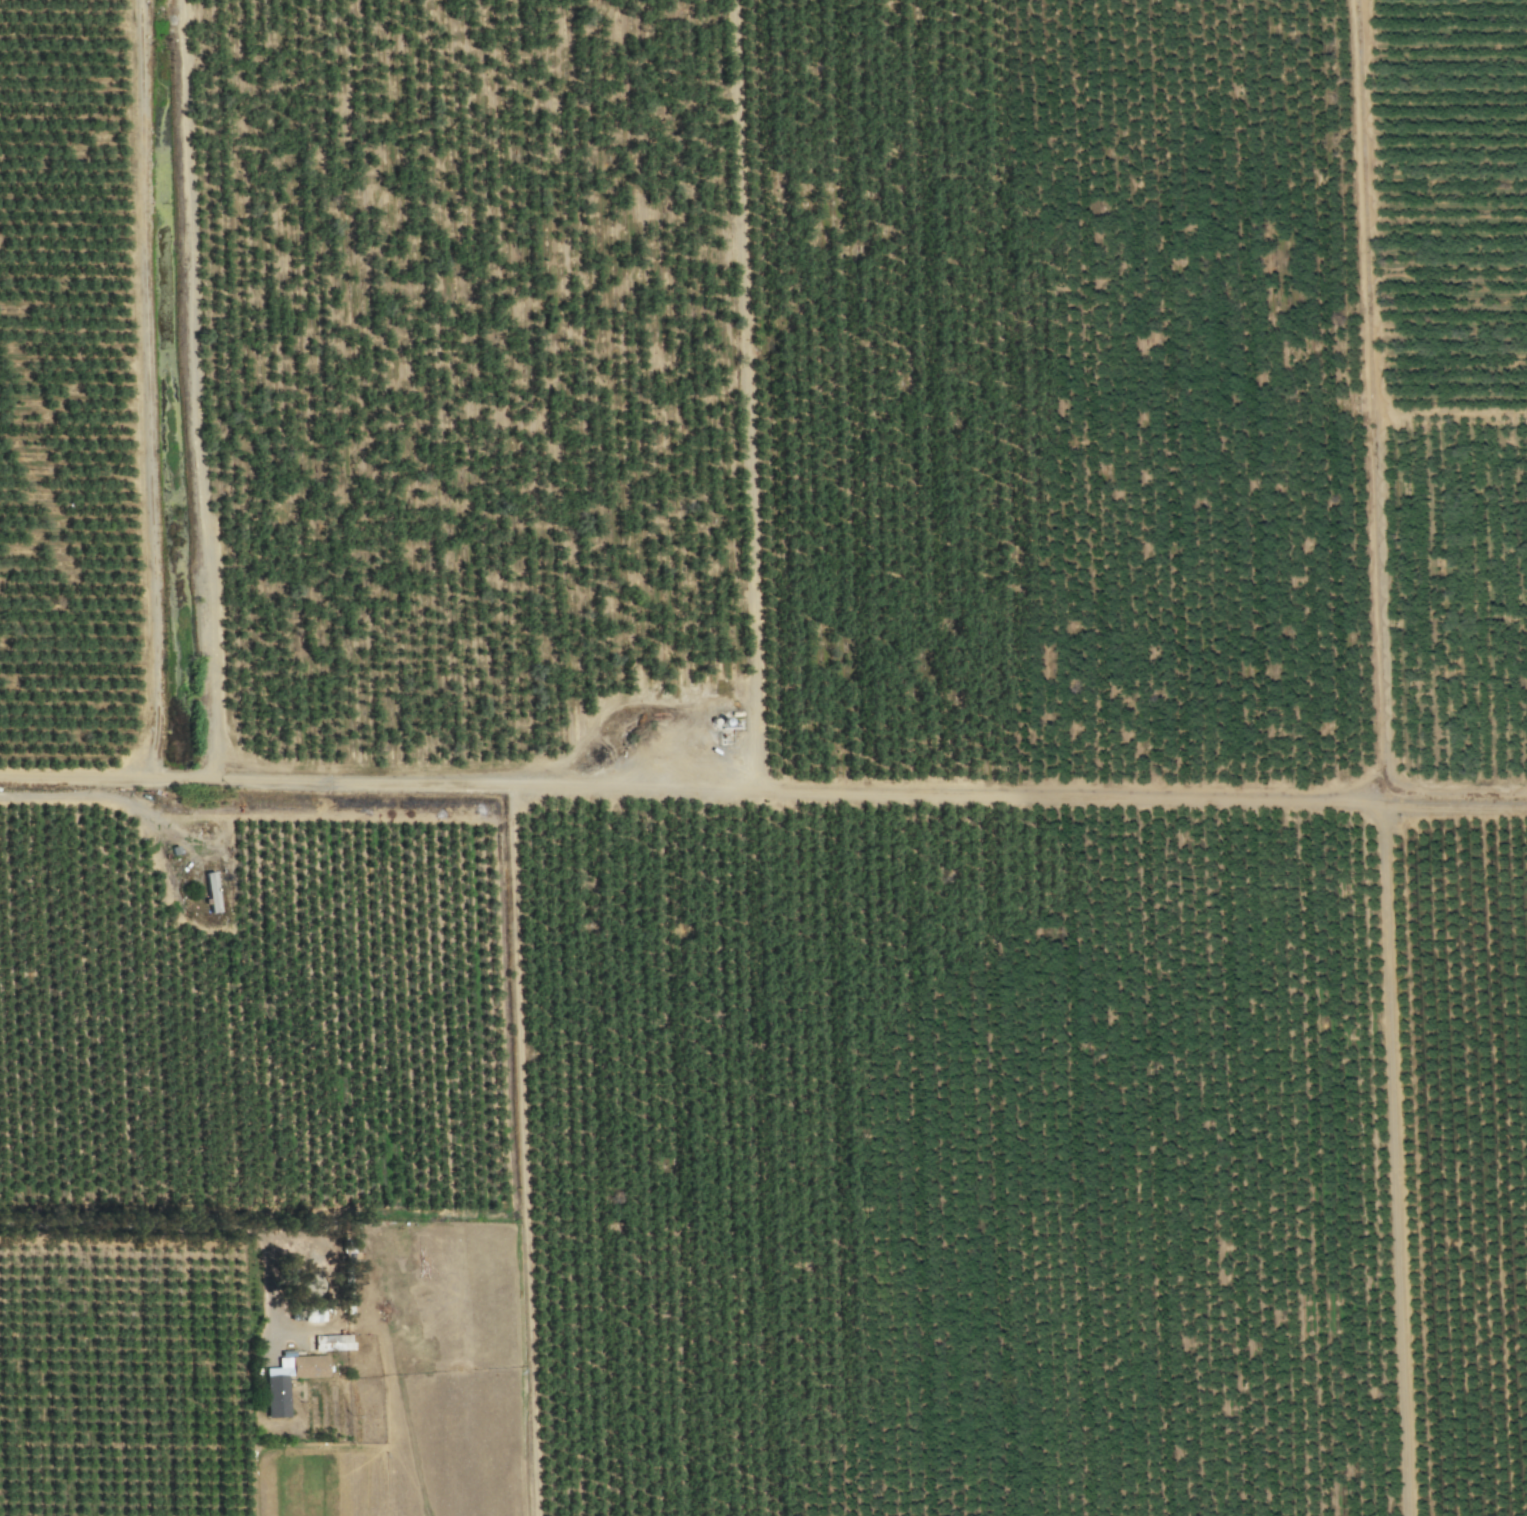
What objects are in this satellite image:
road: (197, 776)
road: (102, 796)
building: (210, 892)
road: (186, 1225)
building: (333, 1342)
building: (307, 1366)
building: (275, 1392)

